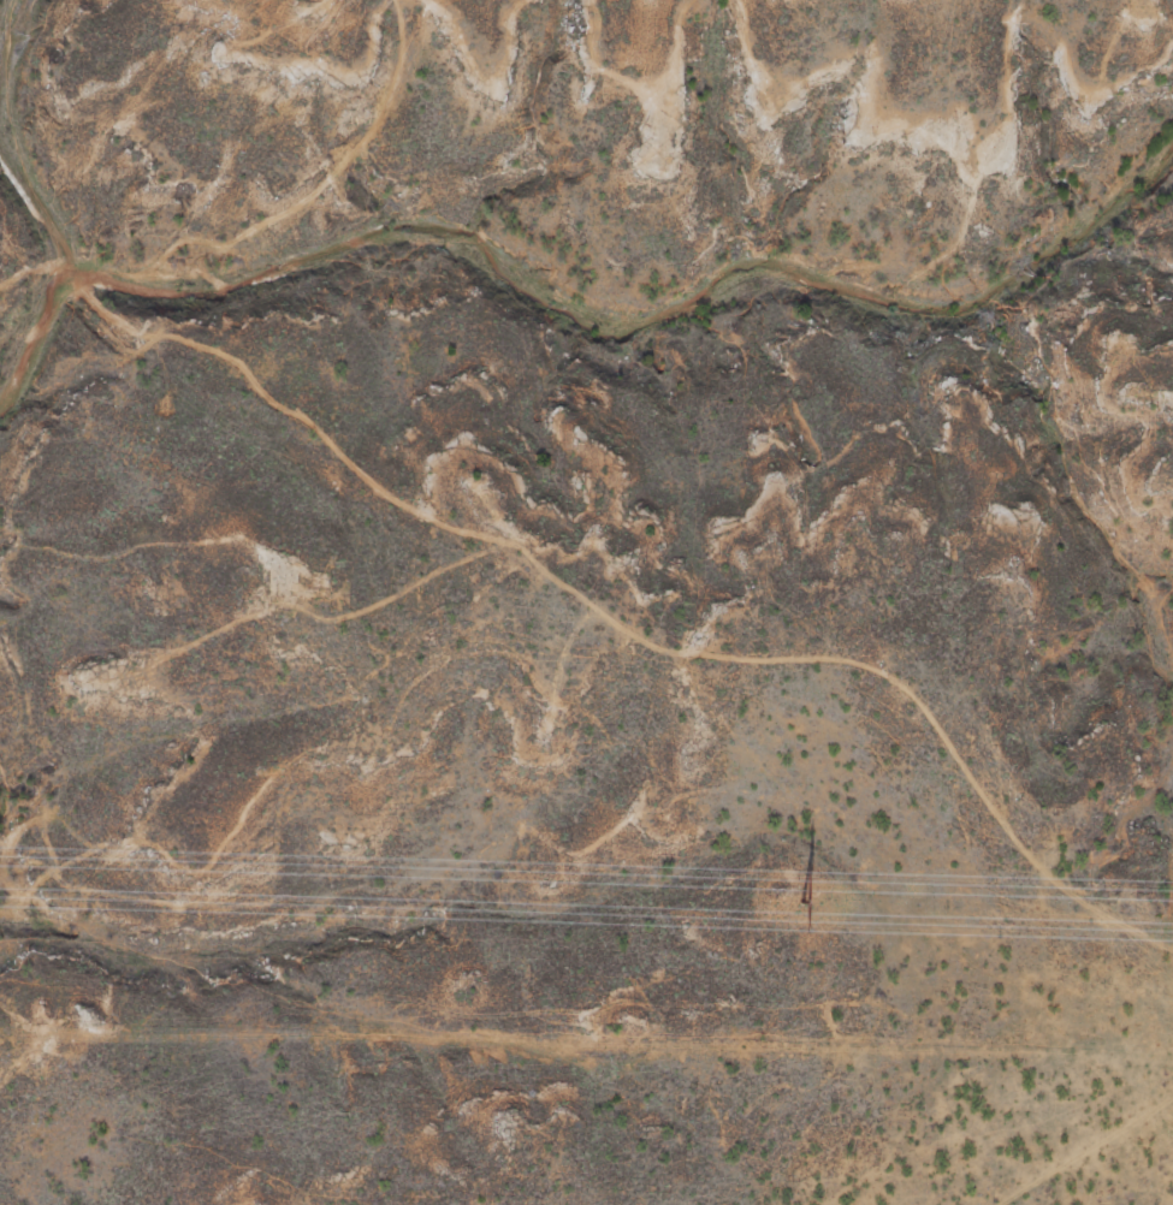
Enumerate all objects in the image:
power tower: (804, 901)

